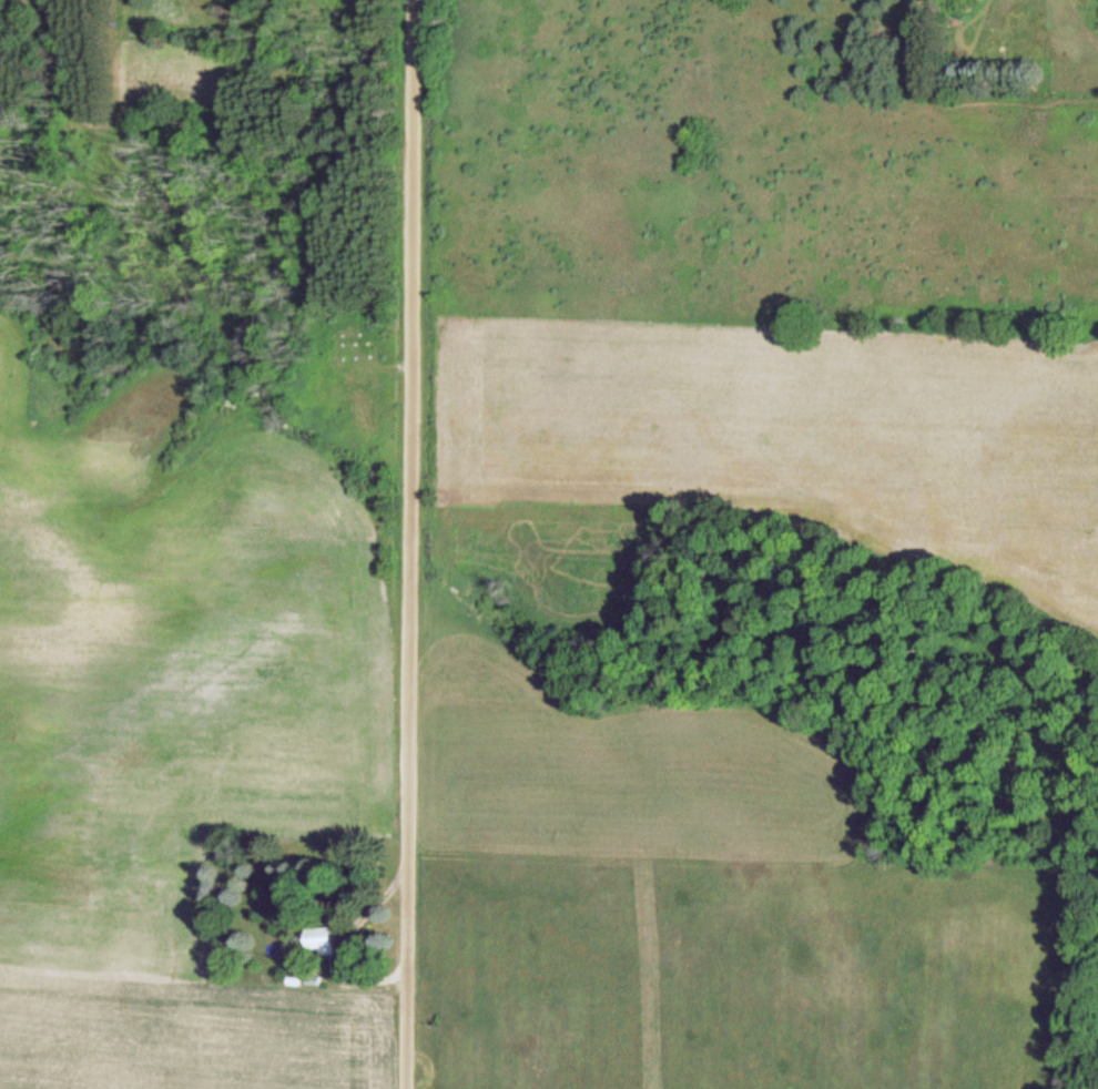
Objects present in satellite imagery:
road: (411, 544)
building: (323, 939)

